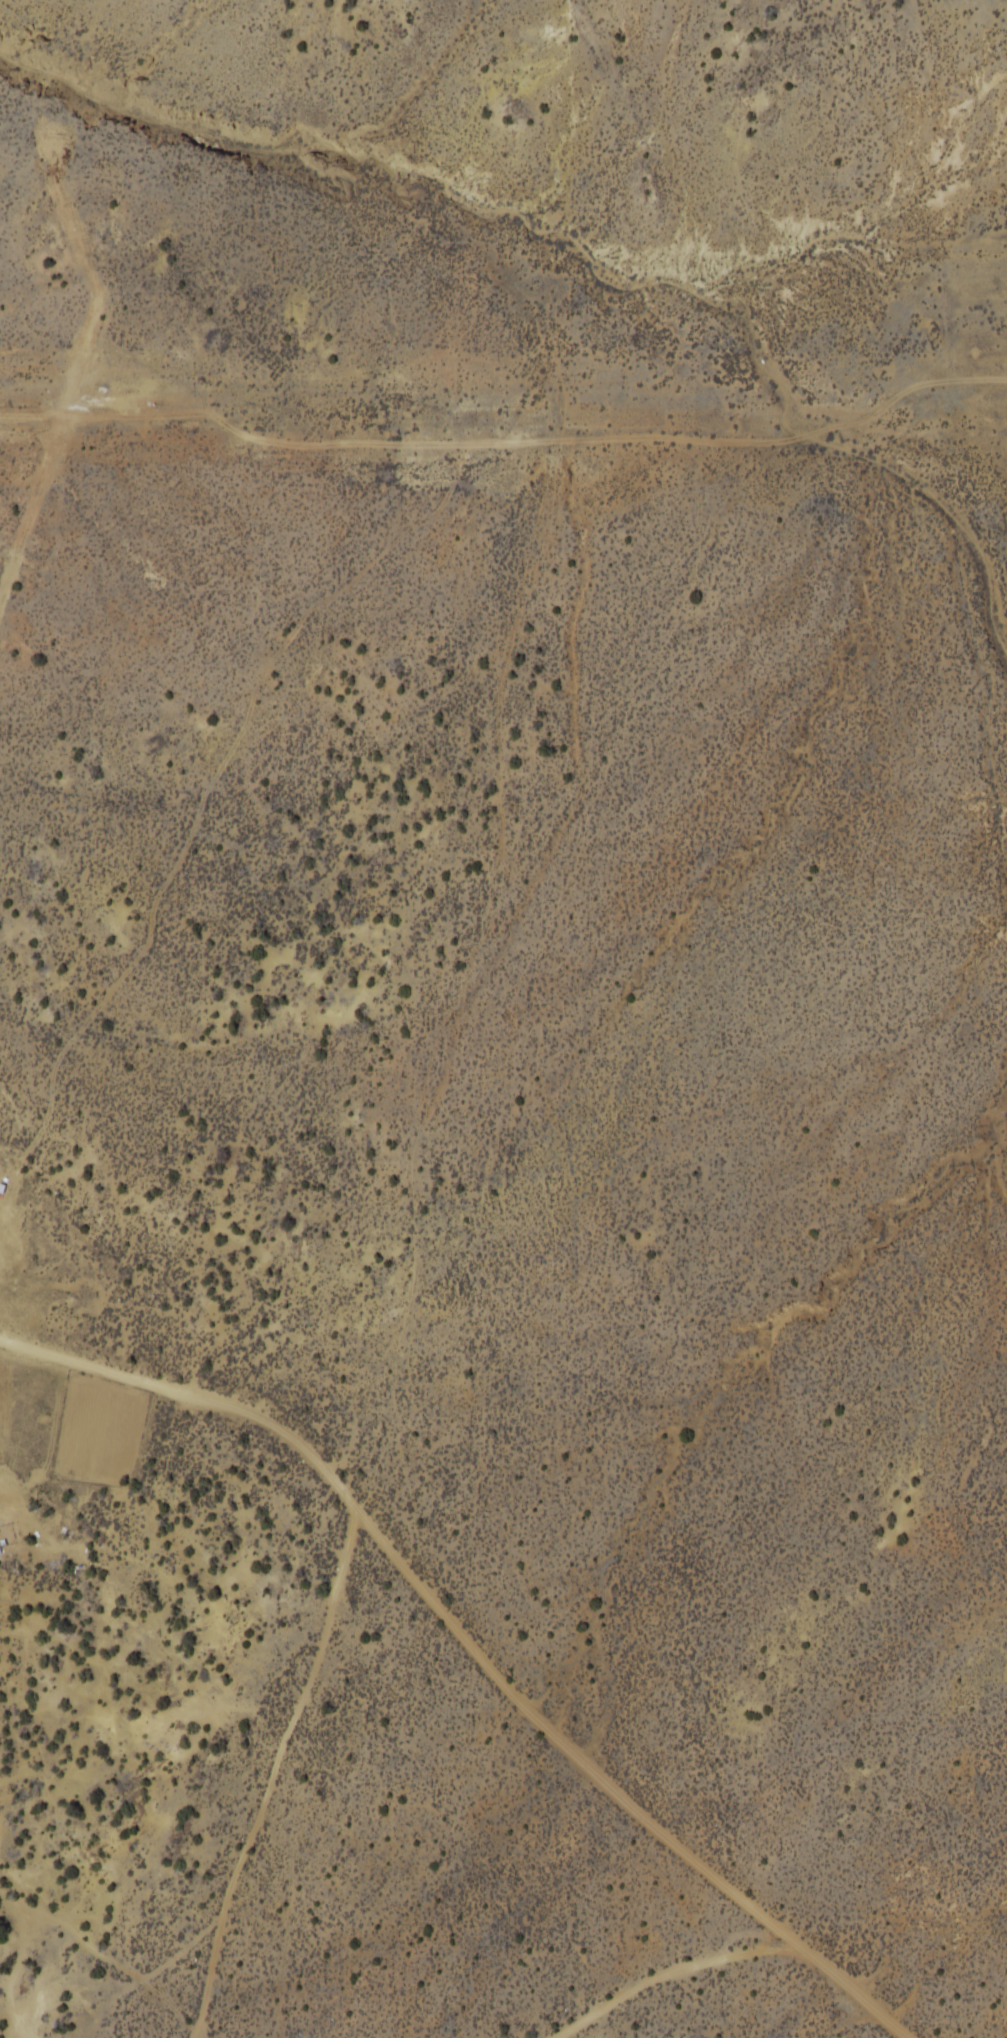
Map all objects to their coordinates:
road: (470, 1648)

